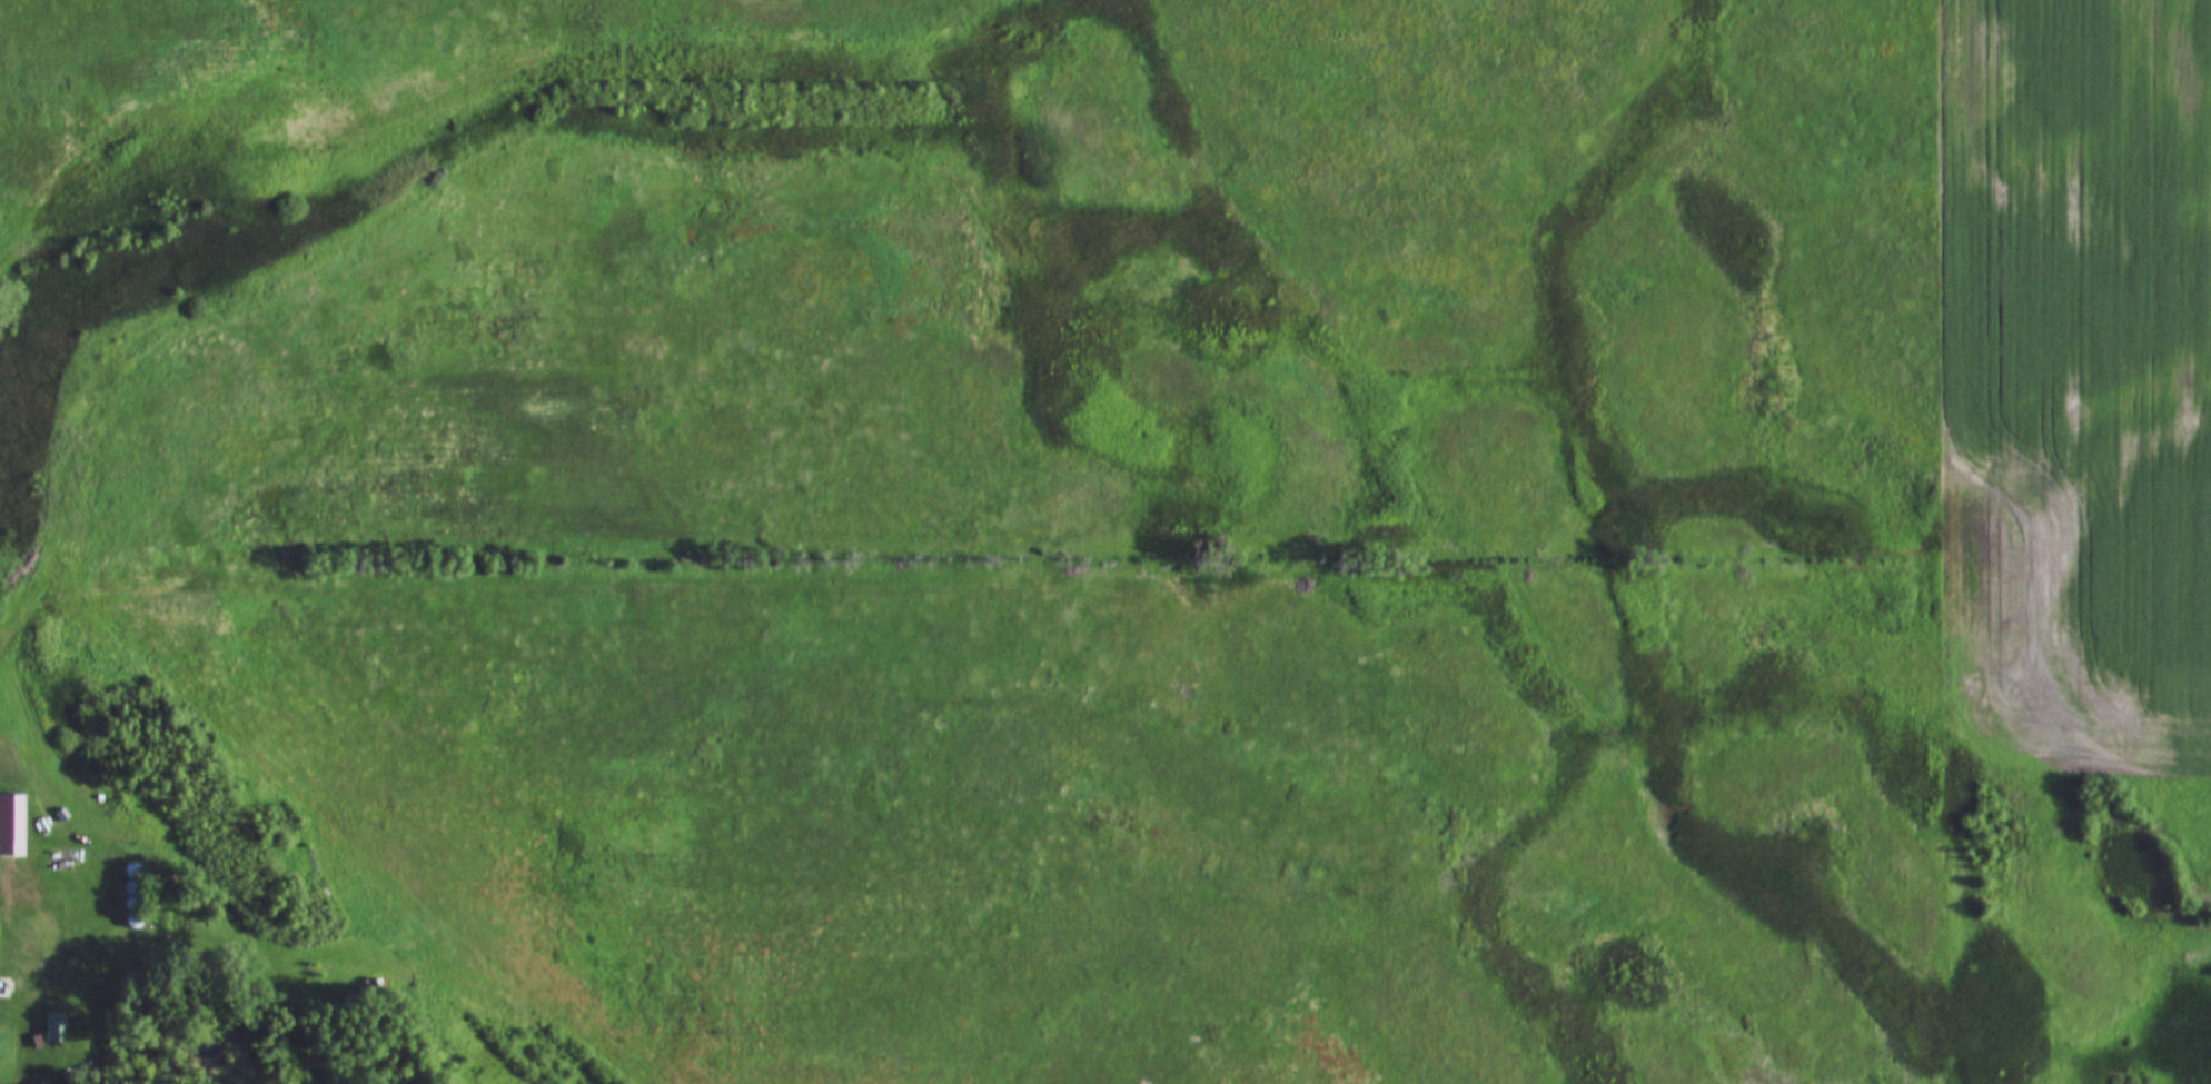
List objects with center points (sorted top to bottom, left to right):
road: (1, 856)
building: (127, 878)
building: (27, 943)
building: (51, 1027)

